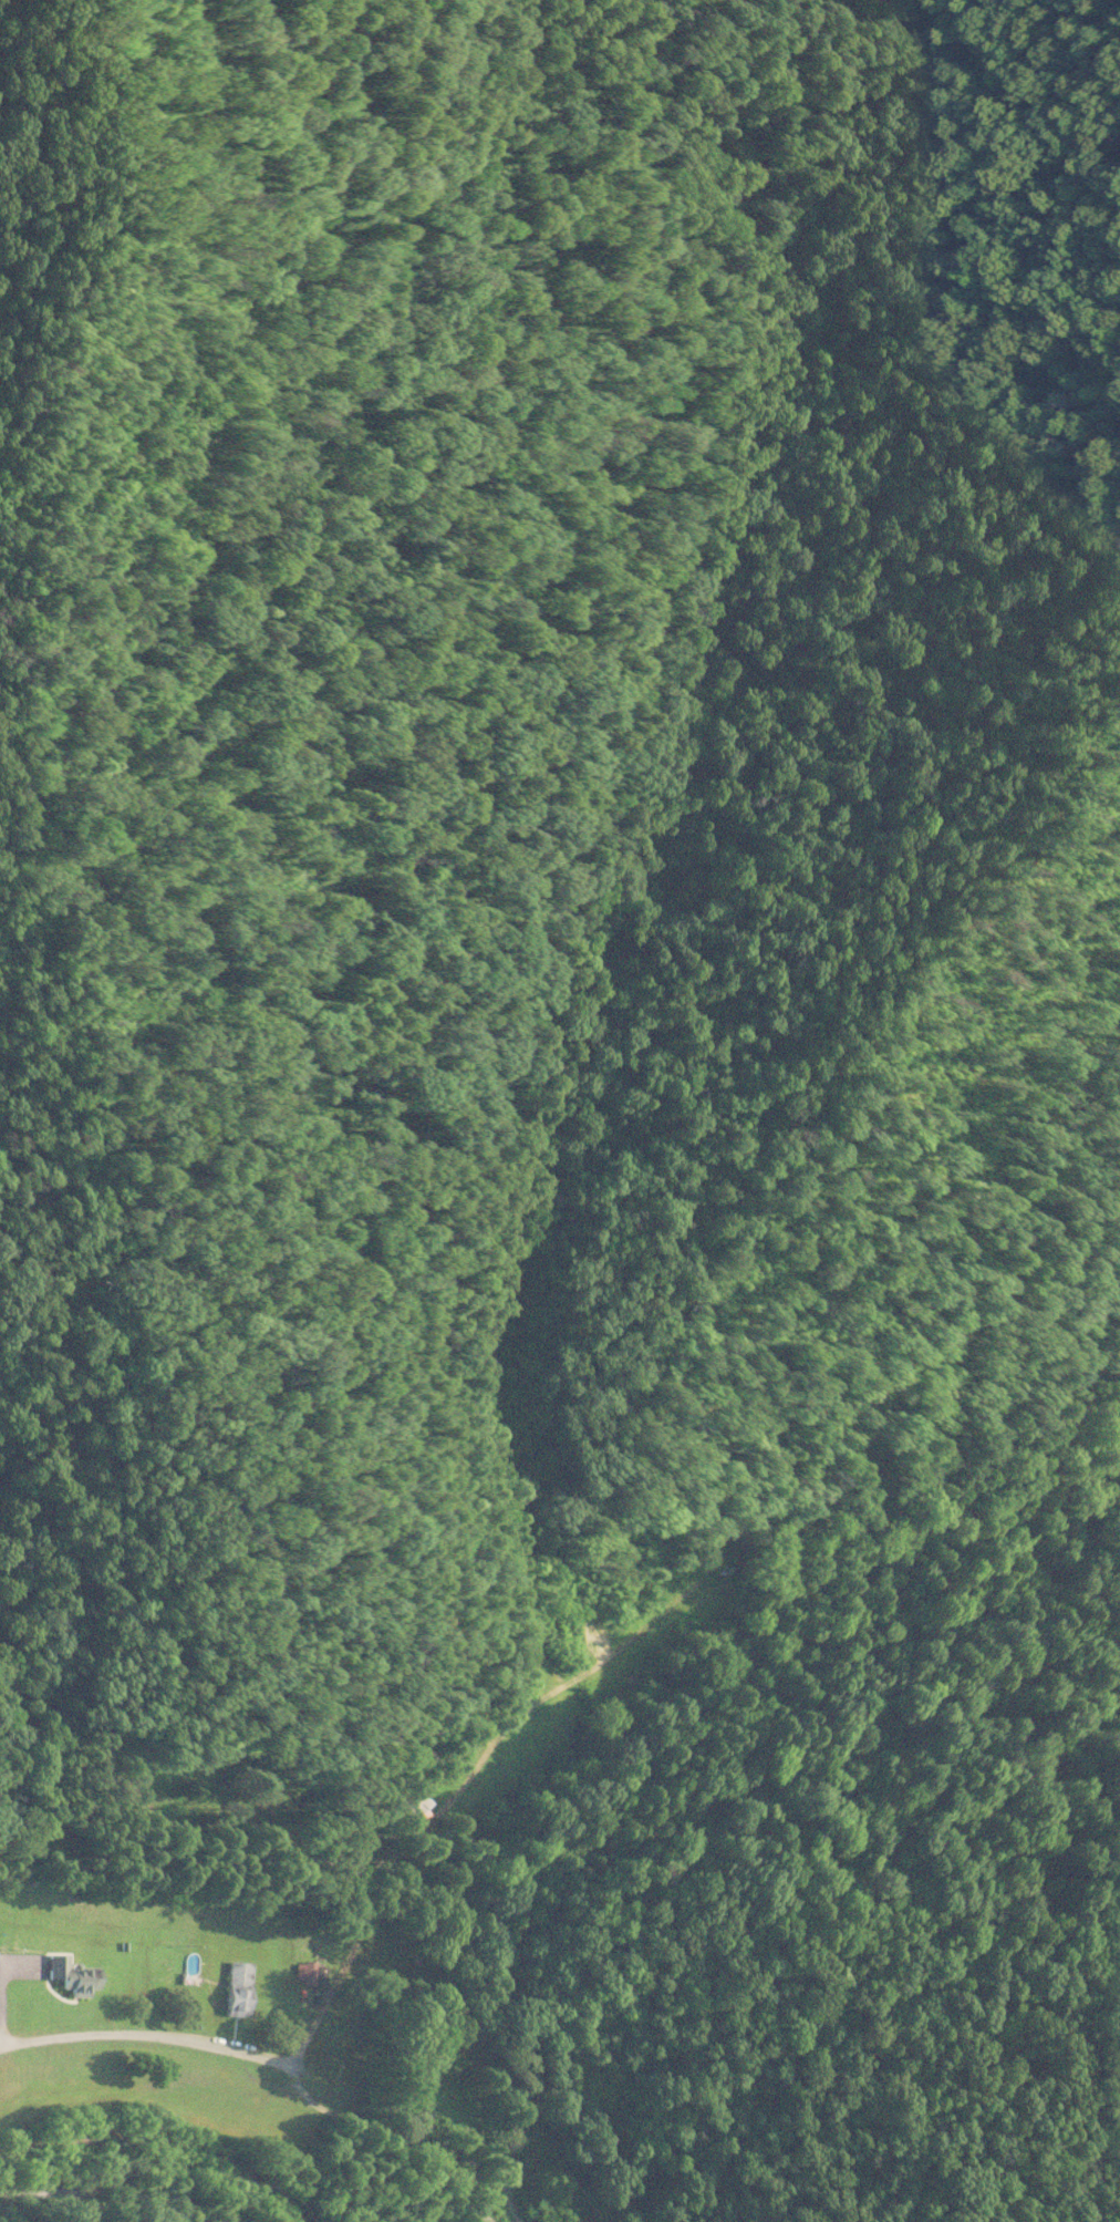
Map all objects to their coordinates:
building: (414, 1807)
building: (307, 1973)
building: (71, 1976)
building: (237, 1990)
road: (116, 2191)

